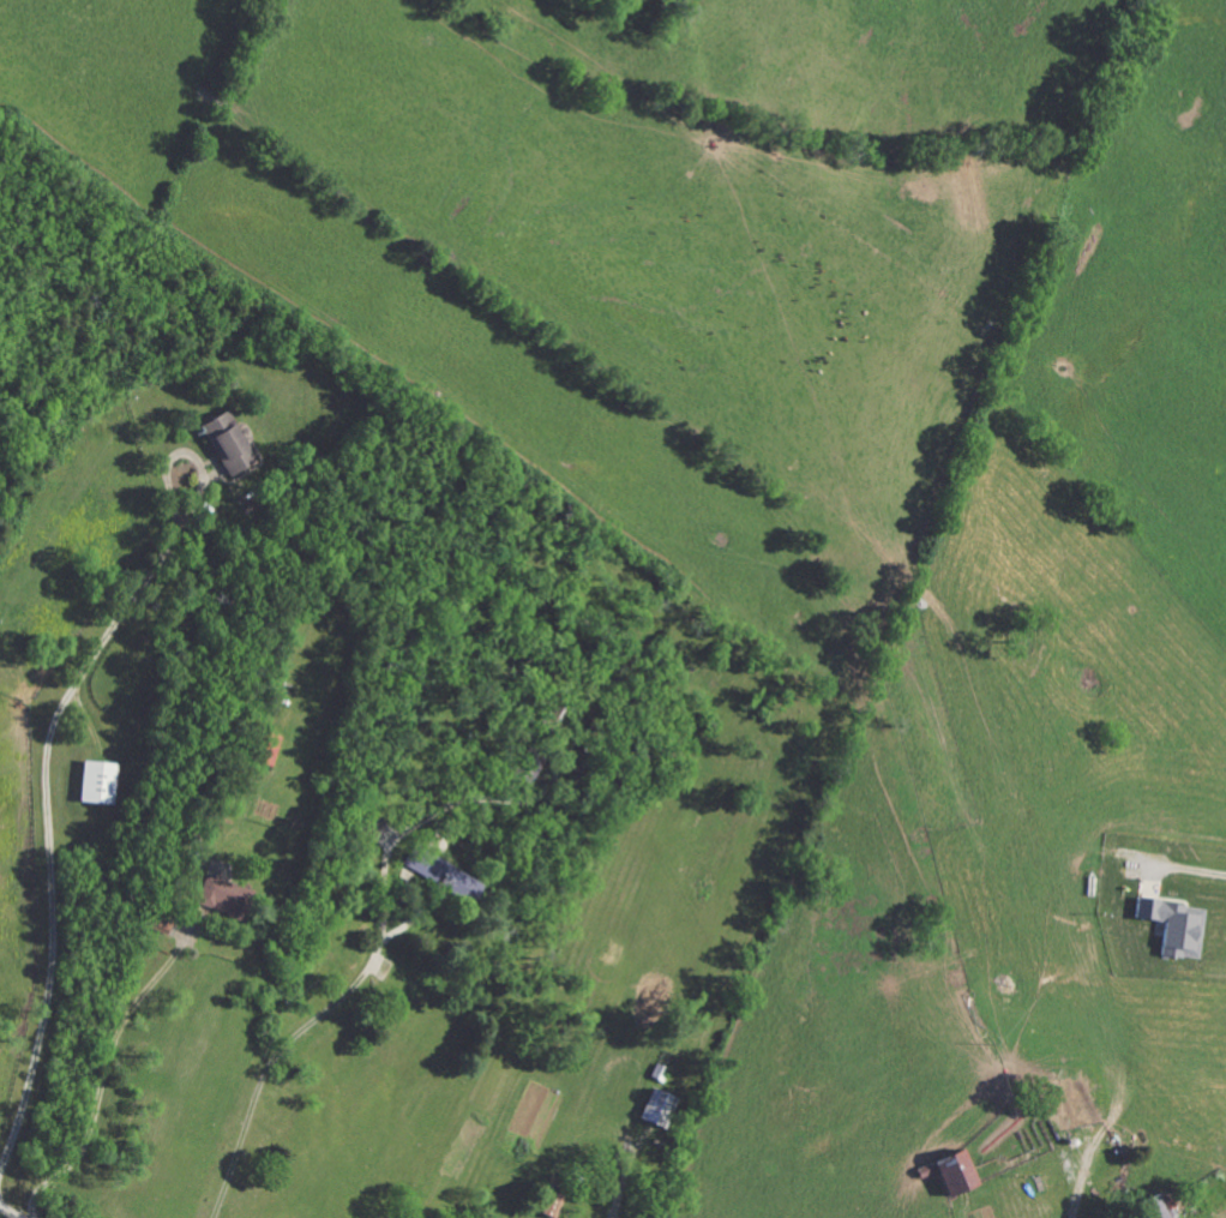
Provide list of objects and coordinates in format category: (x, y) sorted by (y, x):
building: (224, 443)
road: (46, 809)
building: (446, 876)
road: (1197, 882)
building: (223, 898)
building: (1173, 926)
road: (284, 1043)
road: (106, 1073)
building: (1076, 1103)
building: (656, 1109)
building: (950, 1174)
road: (1083, 1186)
building: (551, 1206)
building: (1152, 1208)
road: (11, 1212)

